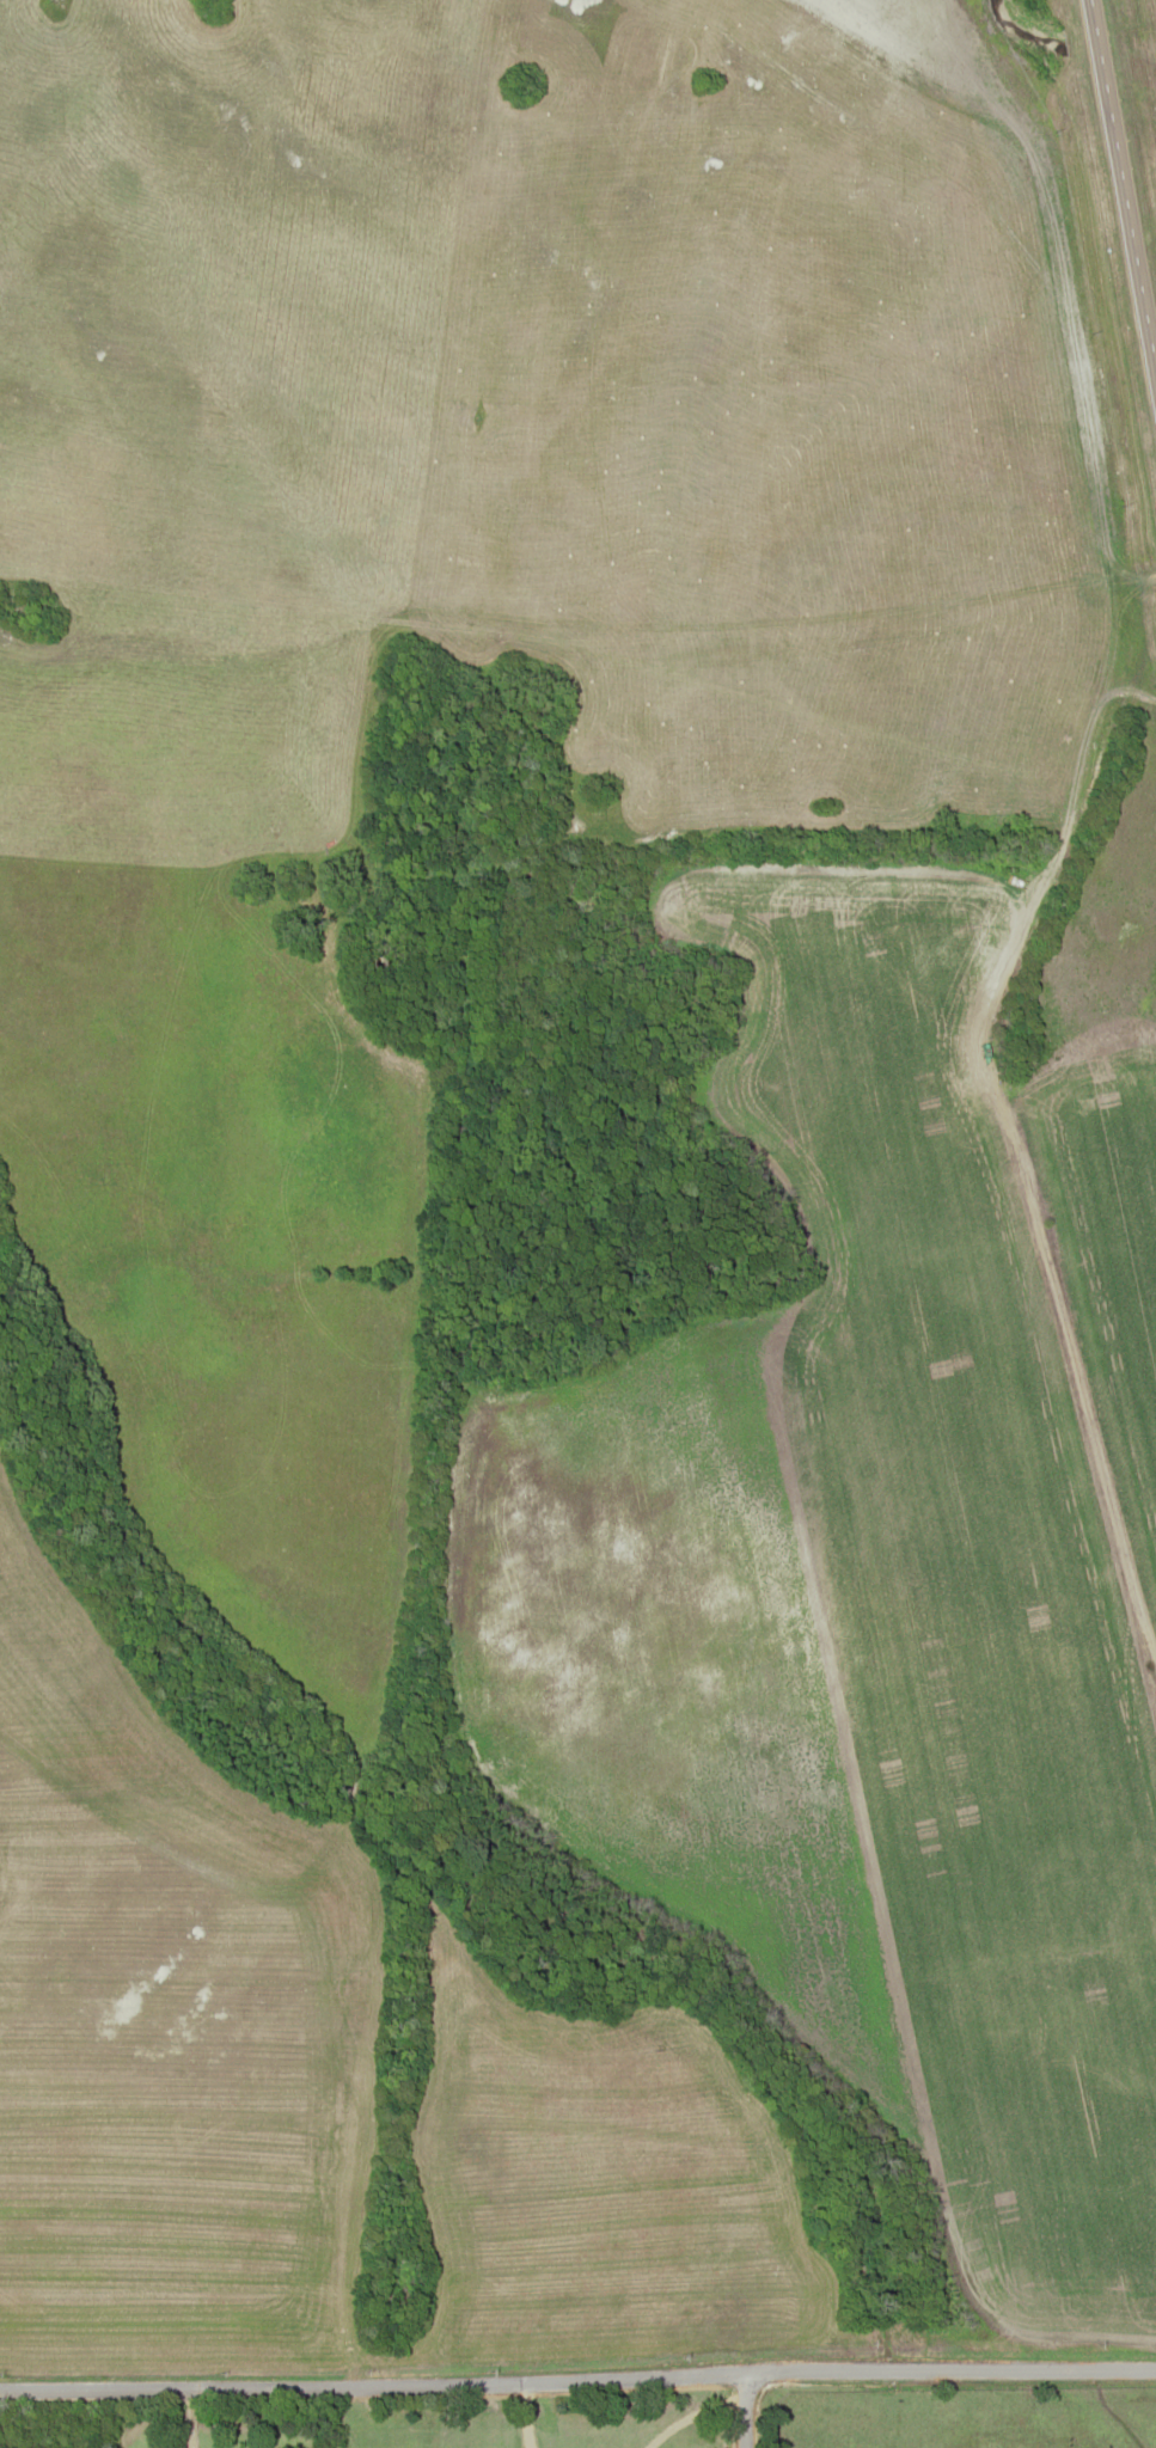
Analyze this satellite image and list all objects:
road: (1123, 191)
road: (579, 769)
road: (1034, 1254)
road: (577, 2371)
road: (746, 2410)

